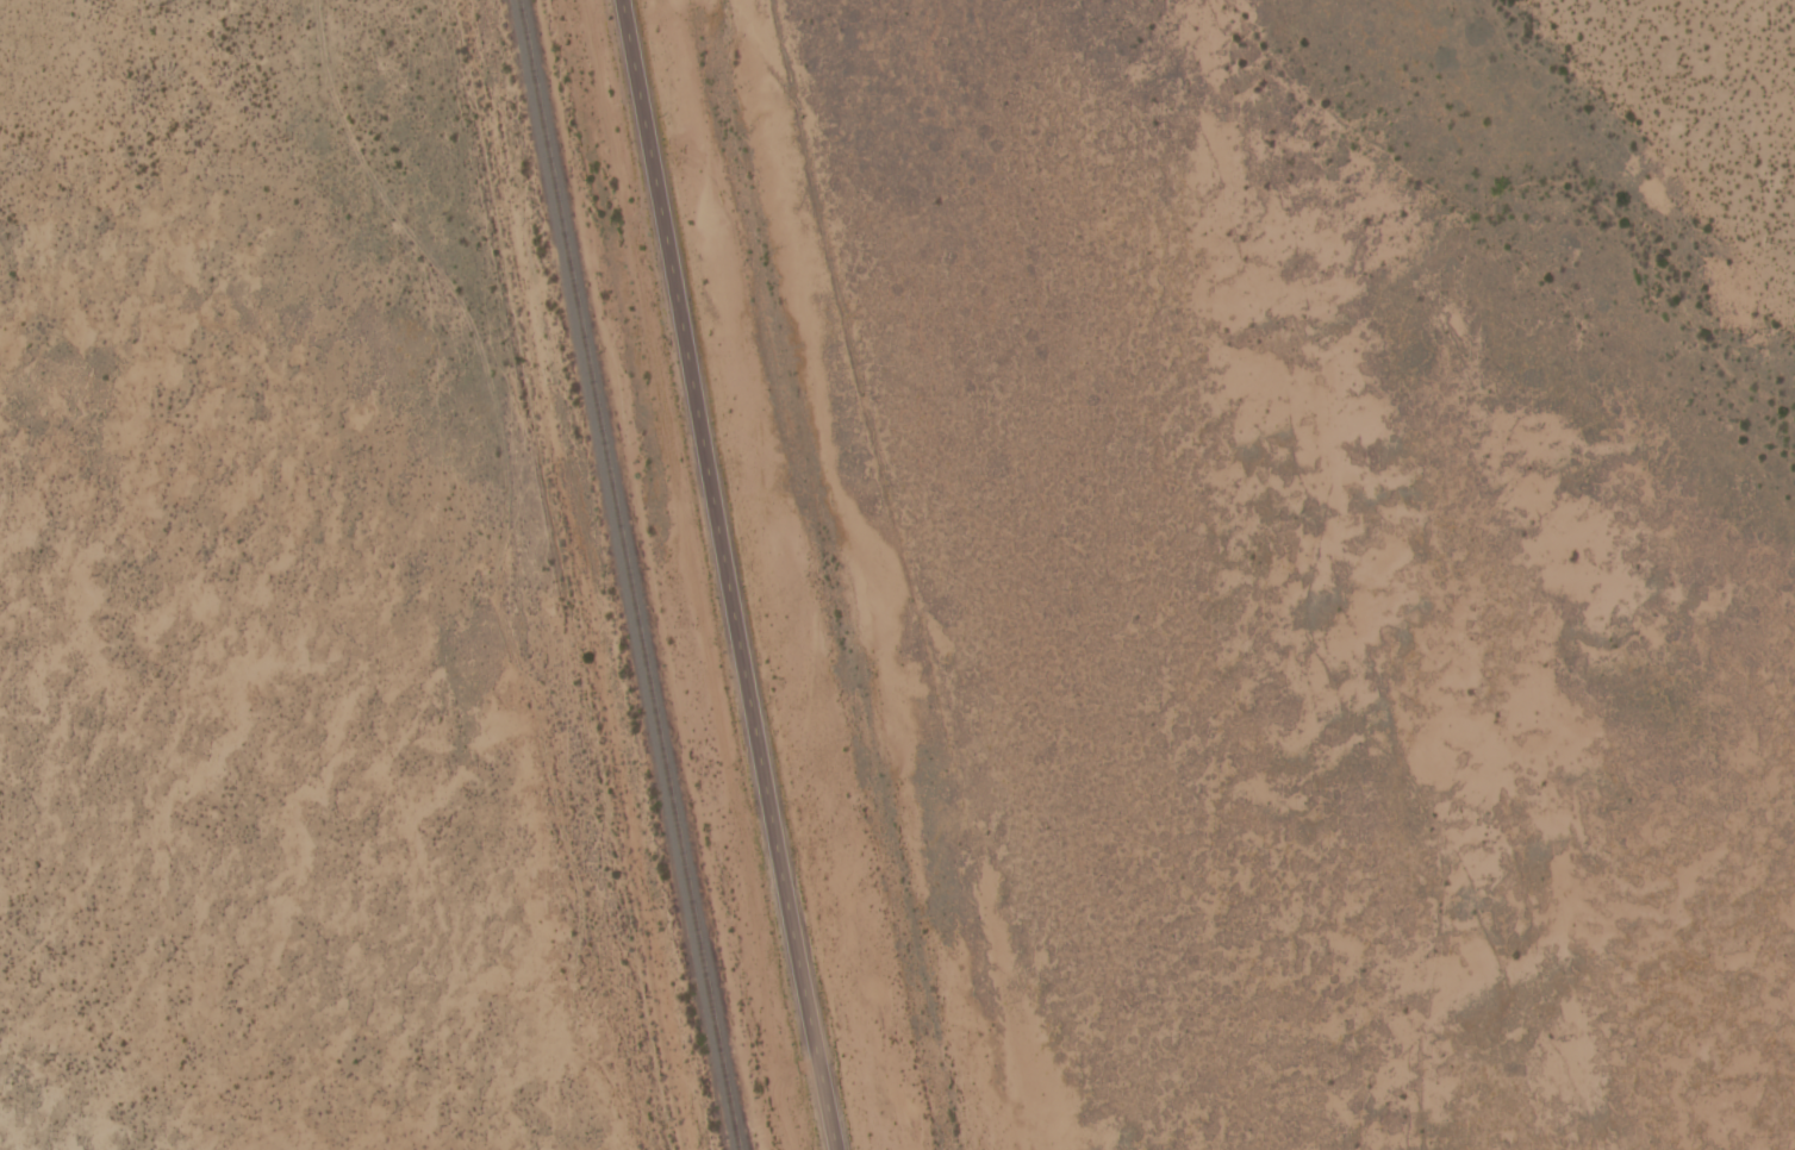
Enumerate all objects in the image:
railway: (625, 575)
road: (722, 575)
road: (493, 579)

